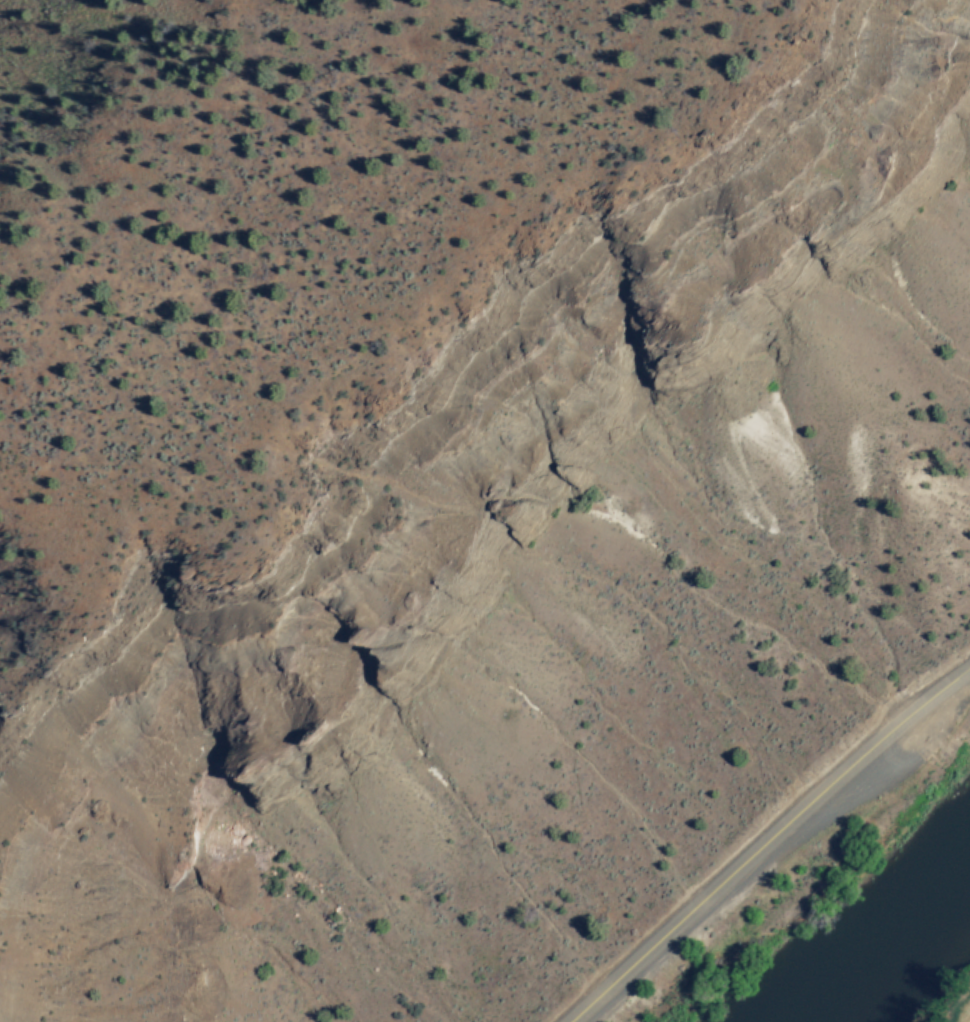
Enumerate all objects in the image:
parking lot: (913, 781)
road: (770, 848)
river: (880, 927)

